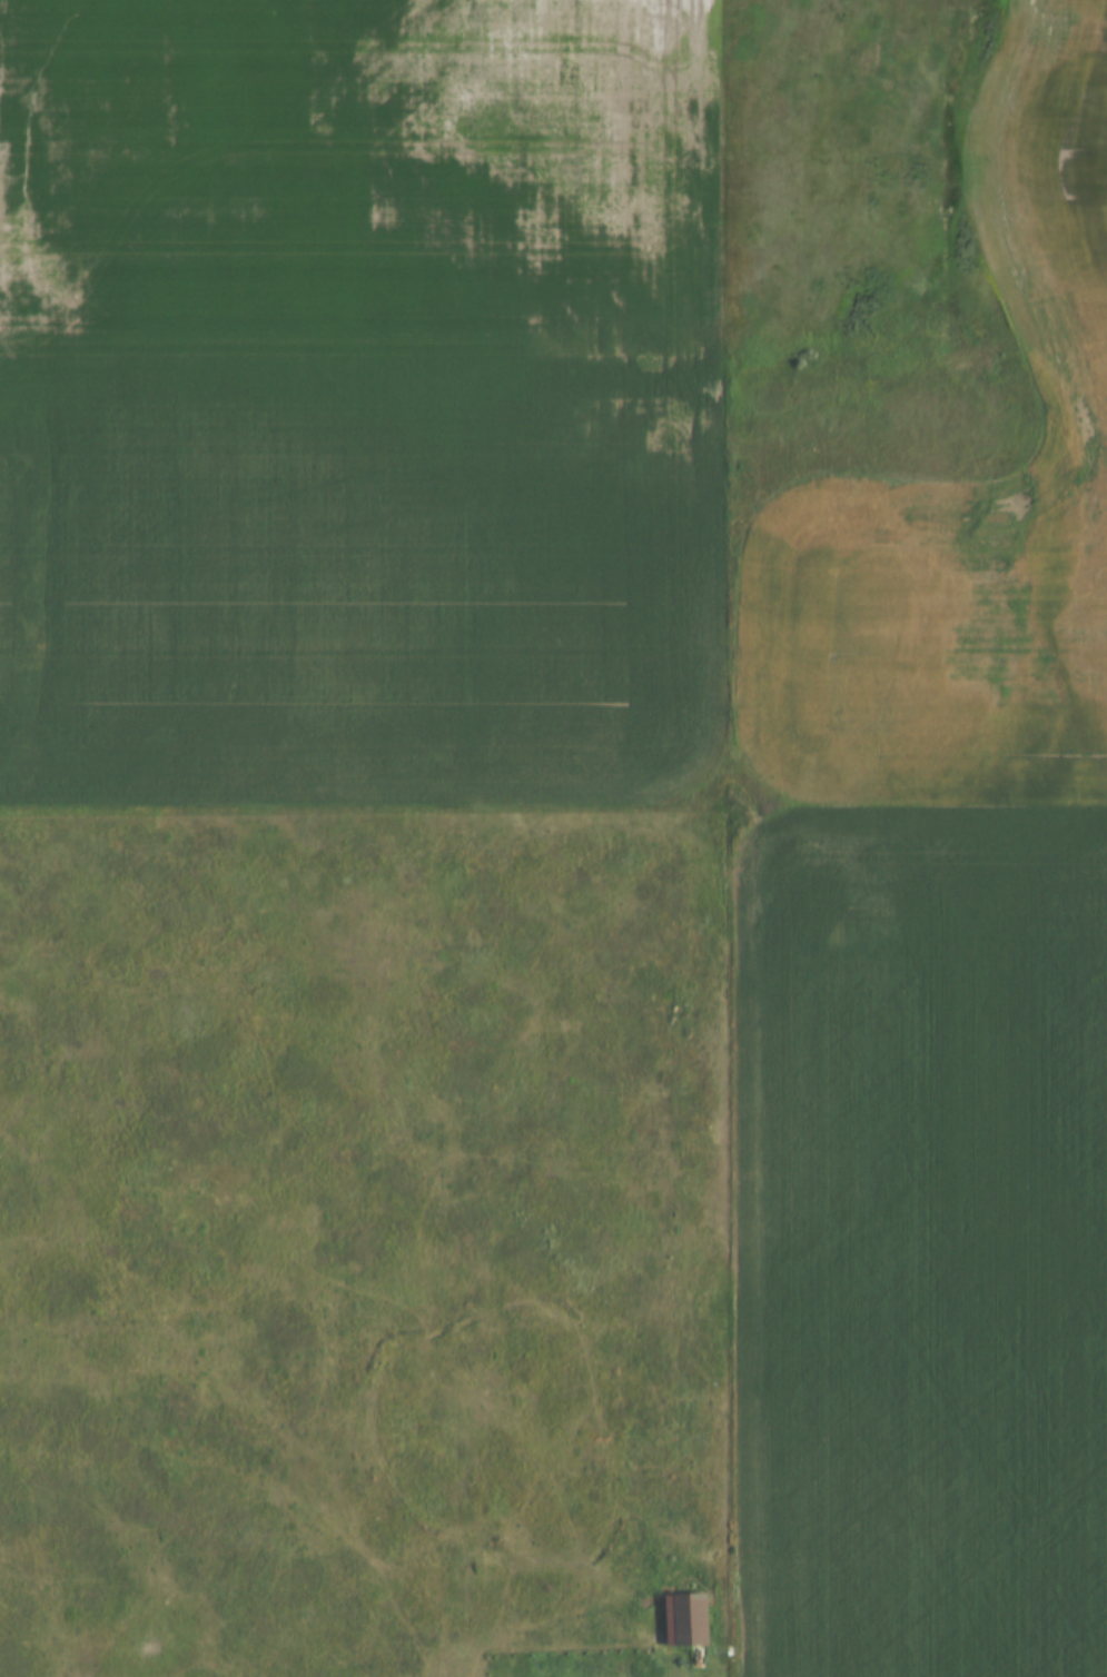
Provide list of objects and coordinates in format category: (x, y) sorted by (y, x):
building: (685, 1618)

